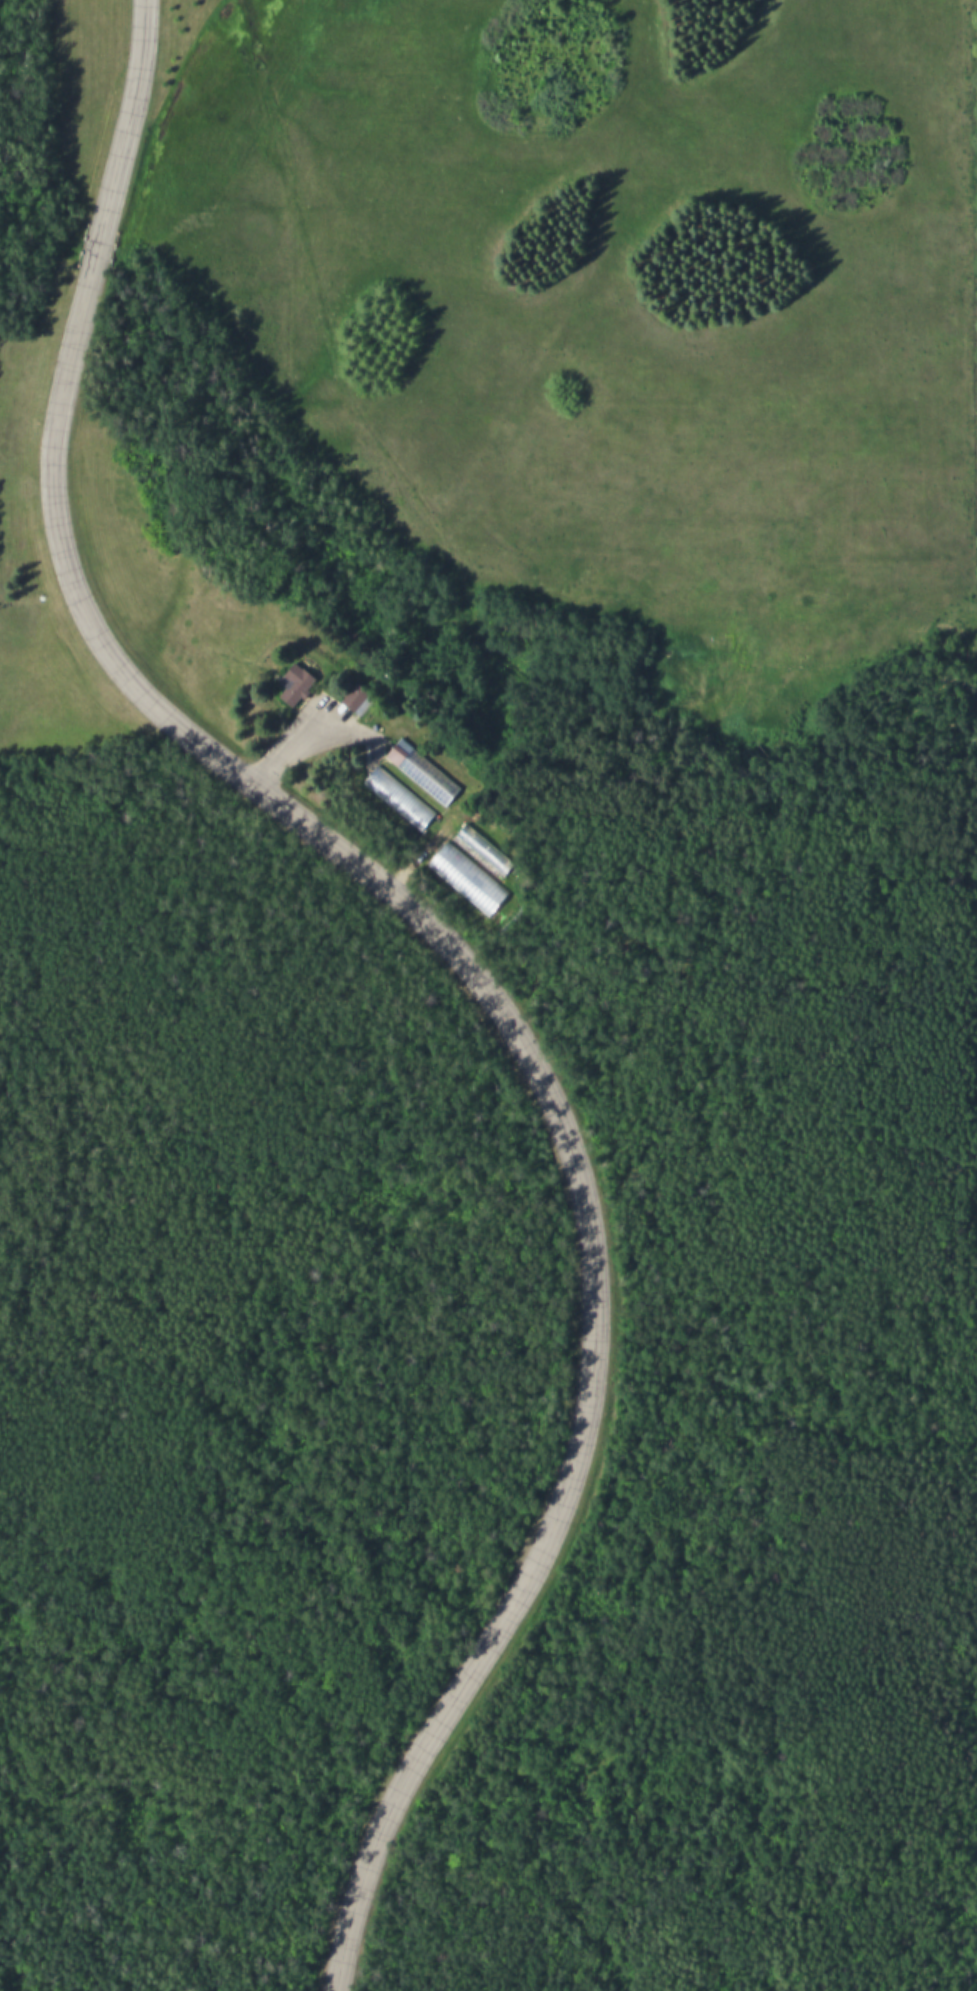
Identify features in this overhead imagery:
building: (300, 685)
building: (360, 699)
road: (298, 714)
building: (426, 771)
building: (399, 800)
building: (486, 851)
road: (454, 949)
park: (488, 995)

